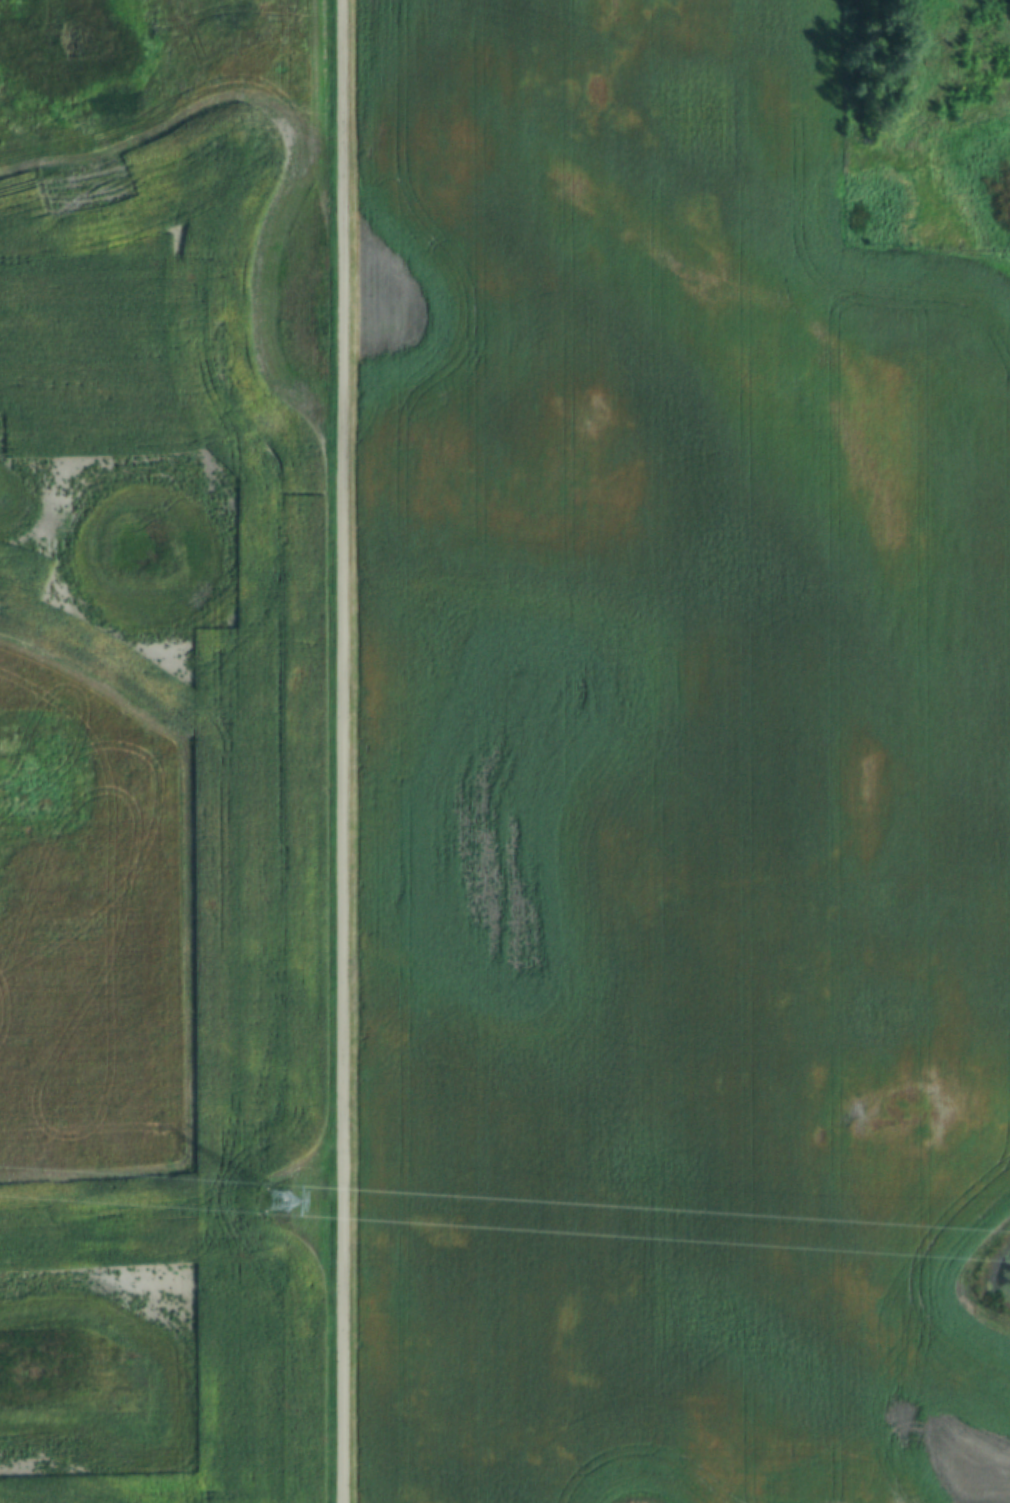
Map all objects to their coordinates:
road: (345, 751)
power tower: (273, 1200)

